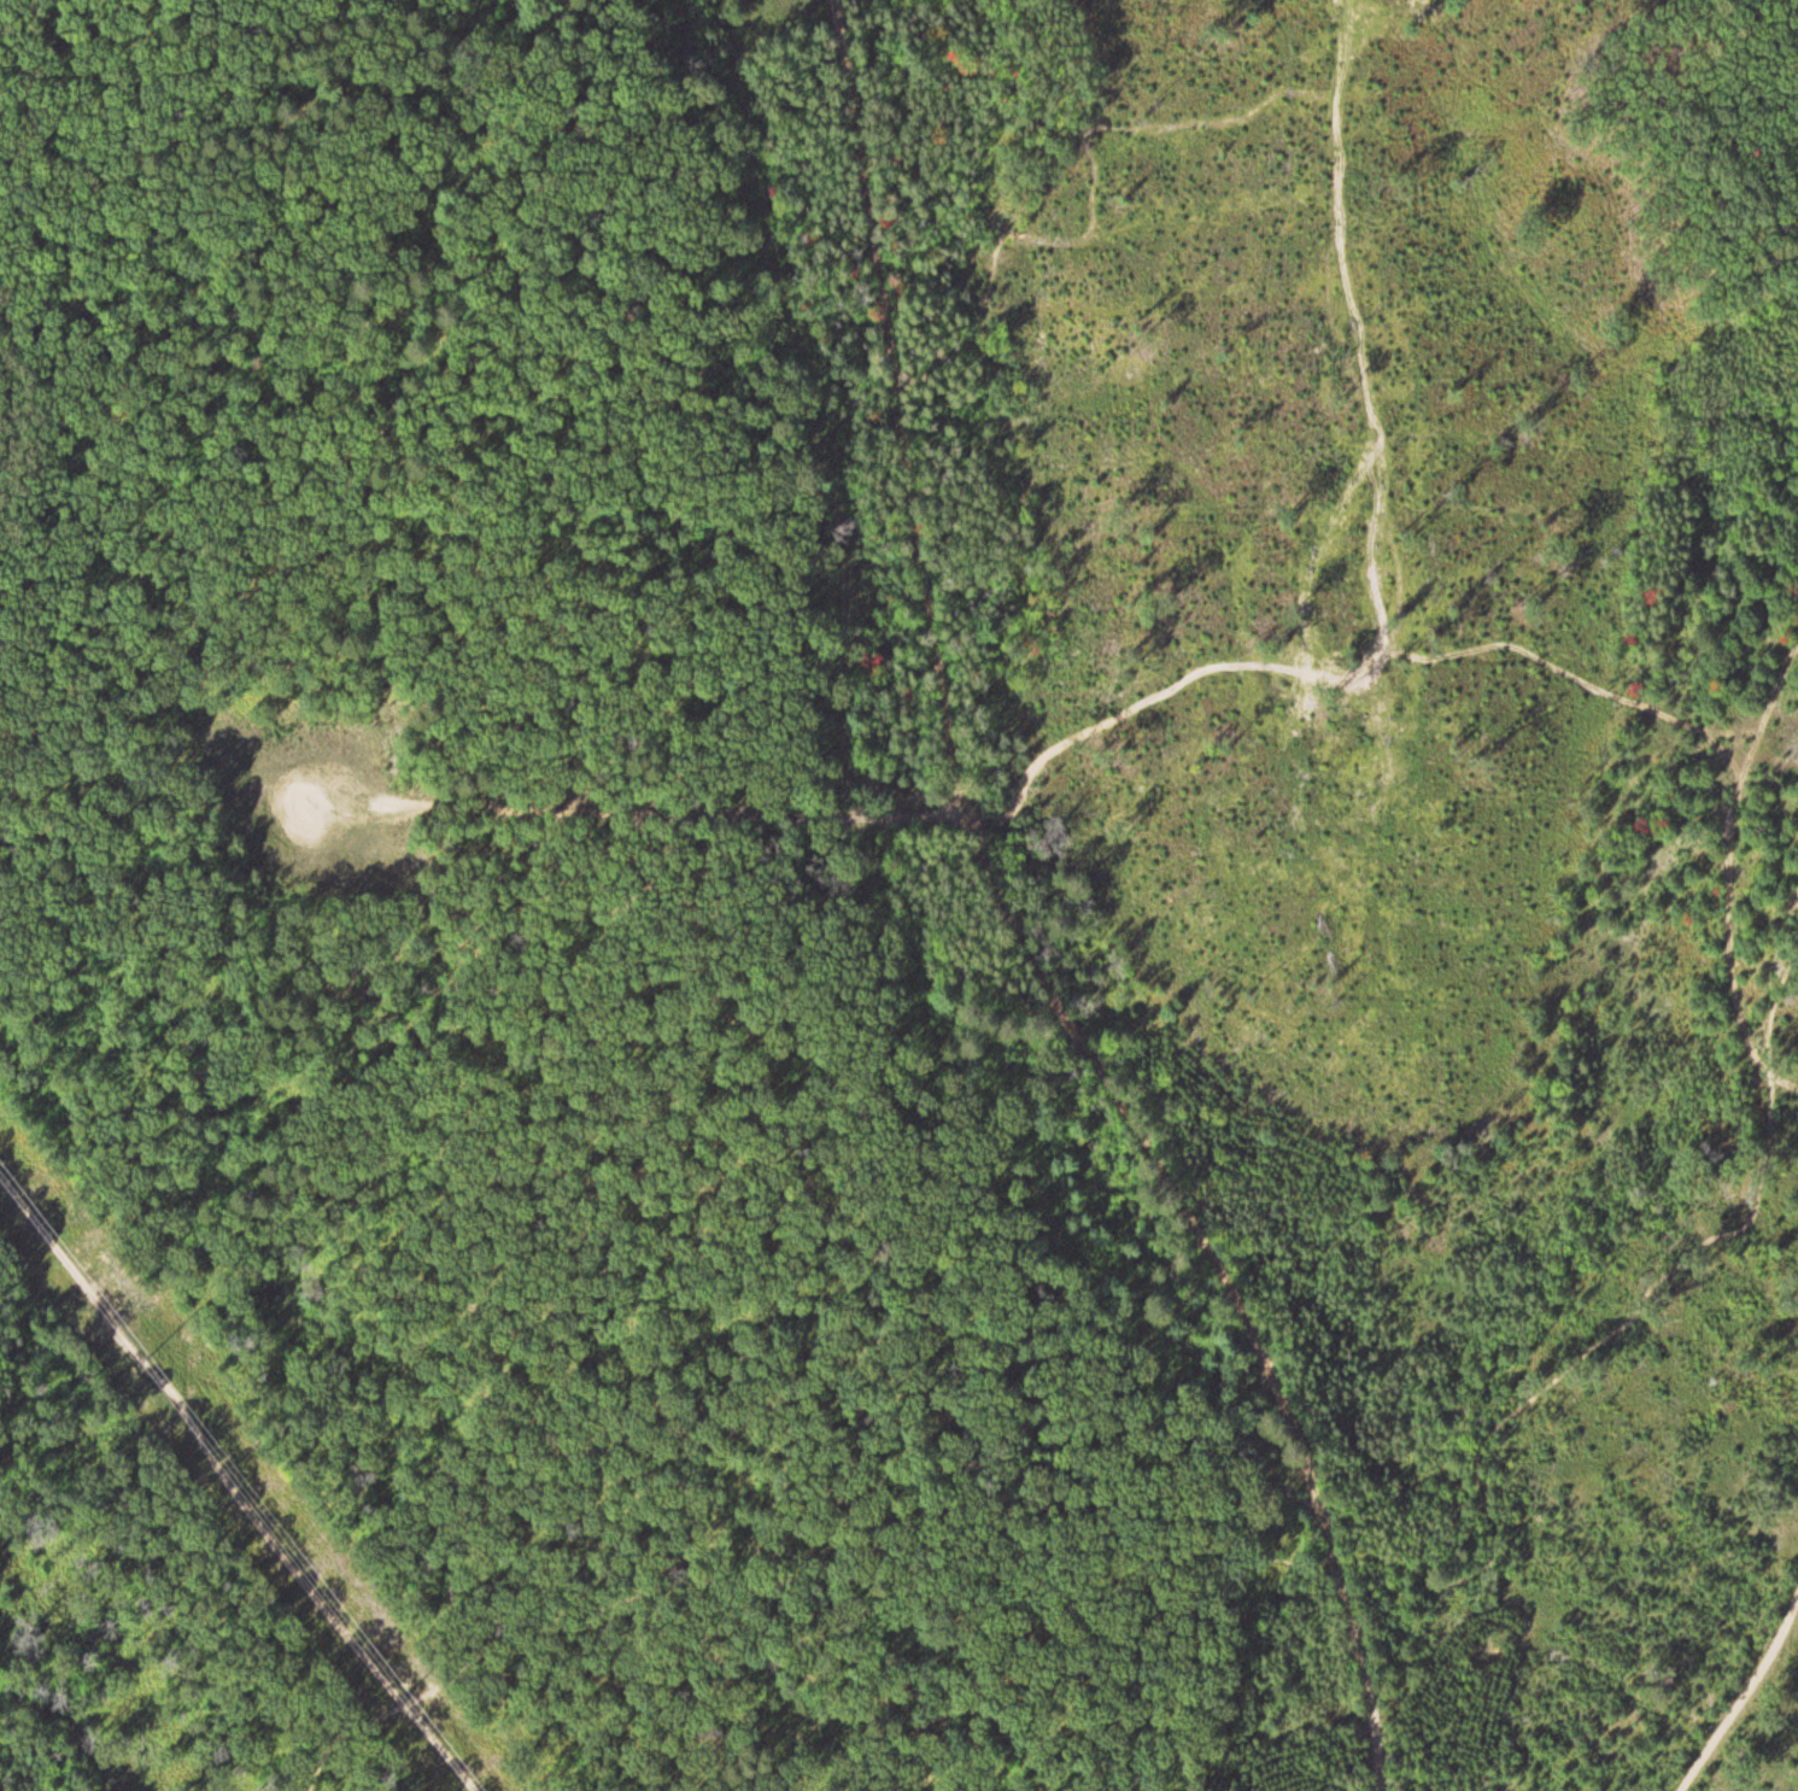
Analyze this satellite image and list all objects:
road: (663, 810)
petroleum well: (316, 817)
road: (1020, 921)
road: (236, 1483)
road: (1340, 1558)
road: (1750, 1676)

